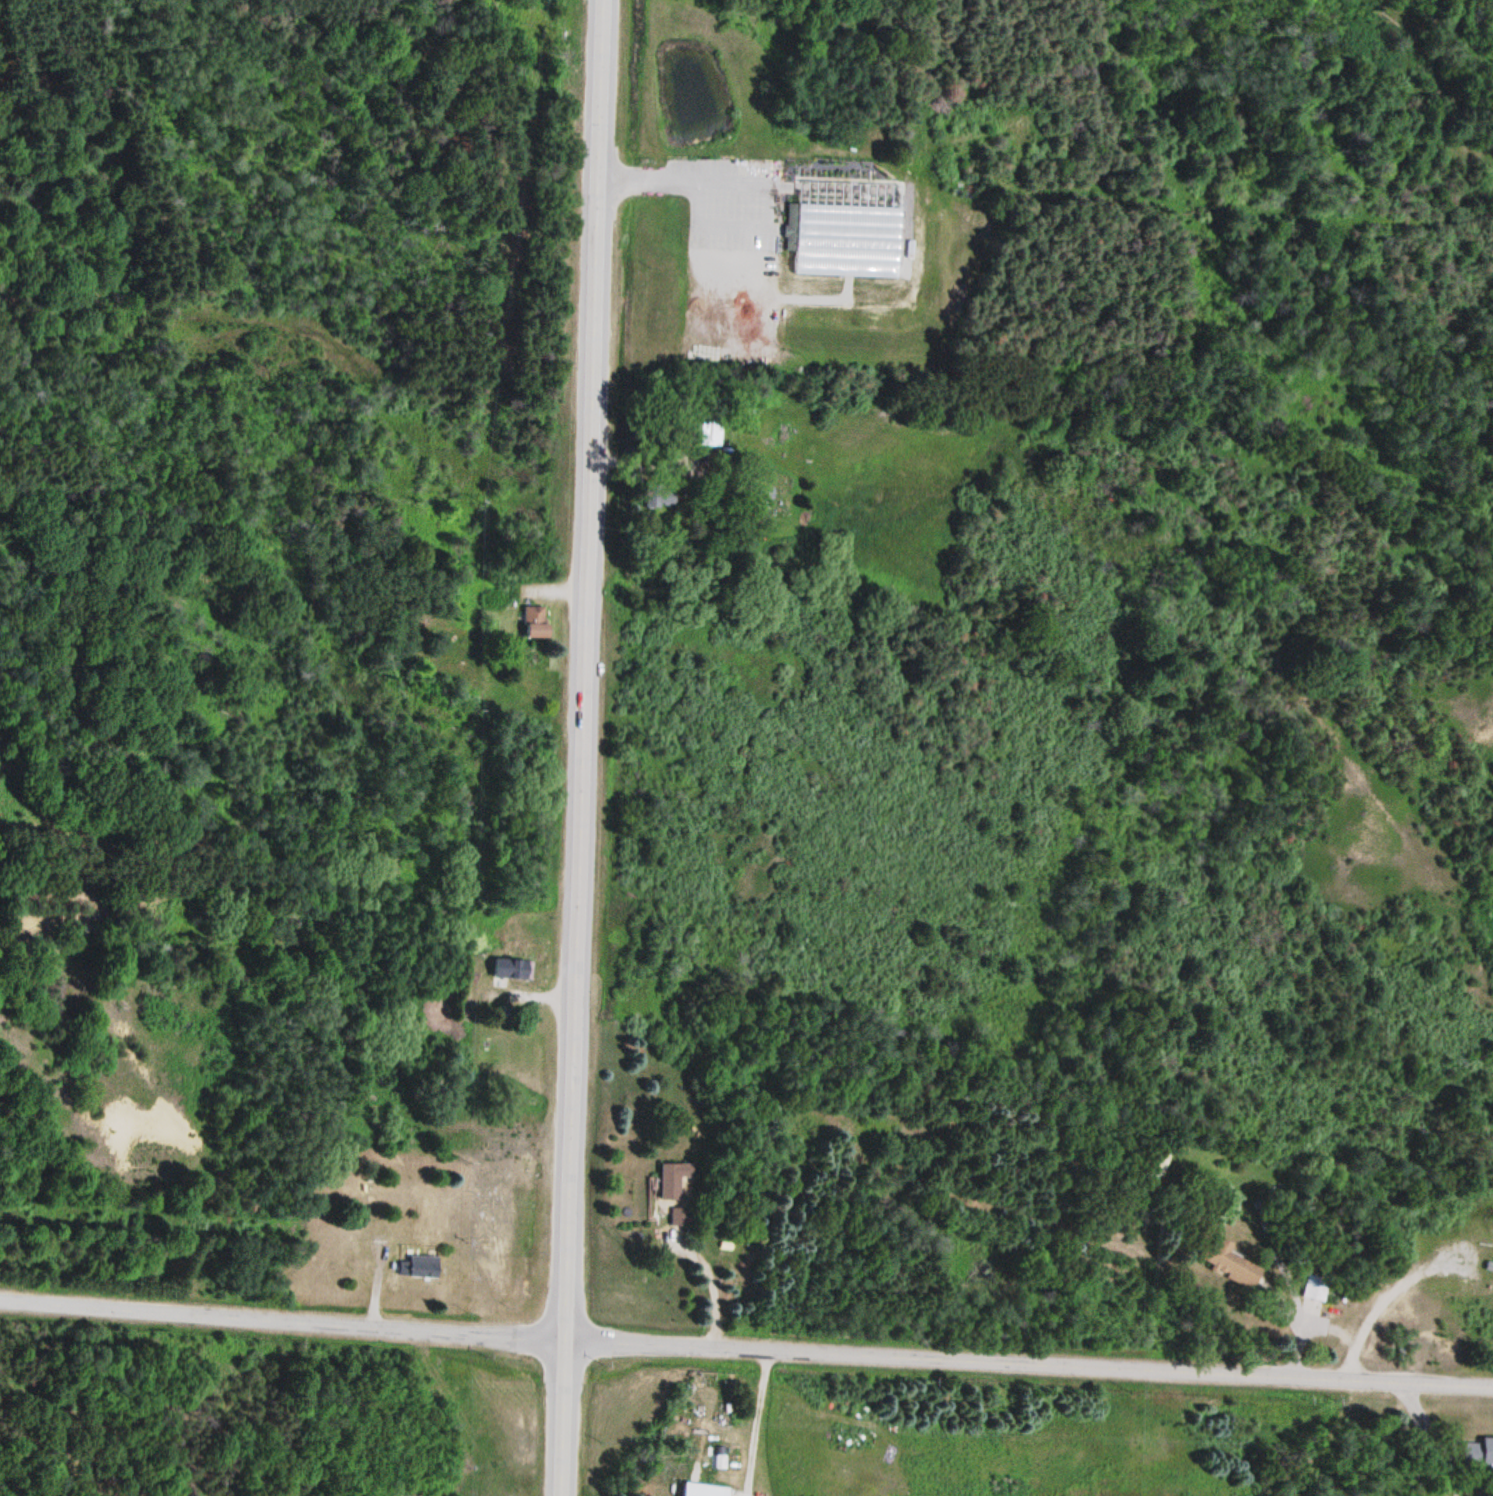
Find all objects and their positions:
building: (851, 218)
road: (579, 747)
building: (512, 969)
building: (674, 1180)
building: (681, 1217)
building: (1230, 1264)
building: (418, 1270)
road: (375, 1287)
building: (1315, 1288)
road: (281, 1322)
road: (1028, 1363)
building: (1487, 1452)
building: (706, 1490)

